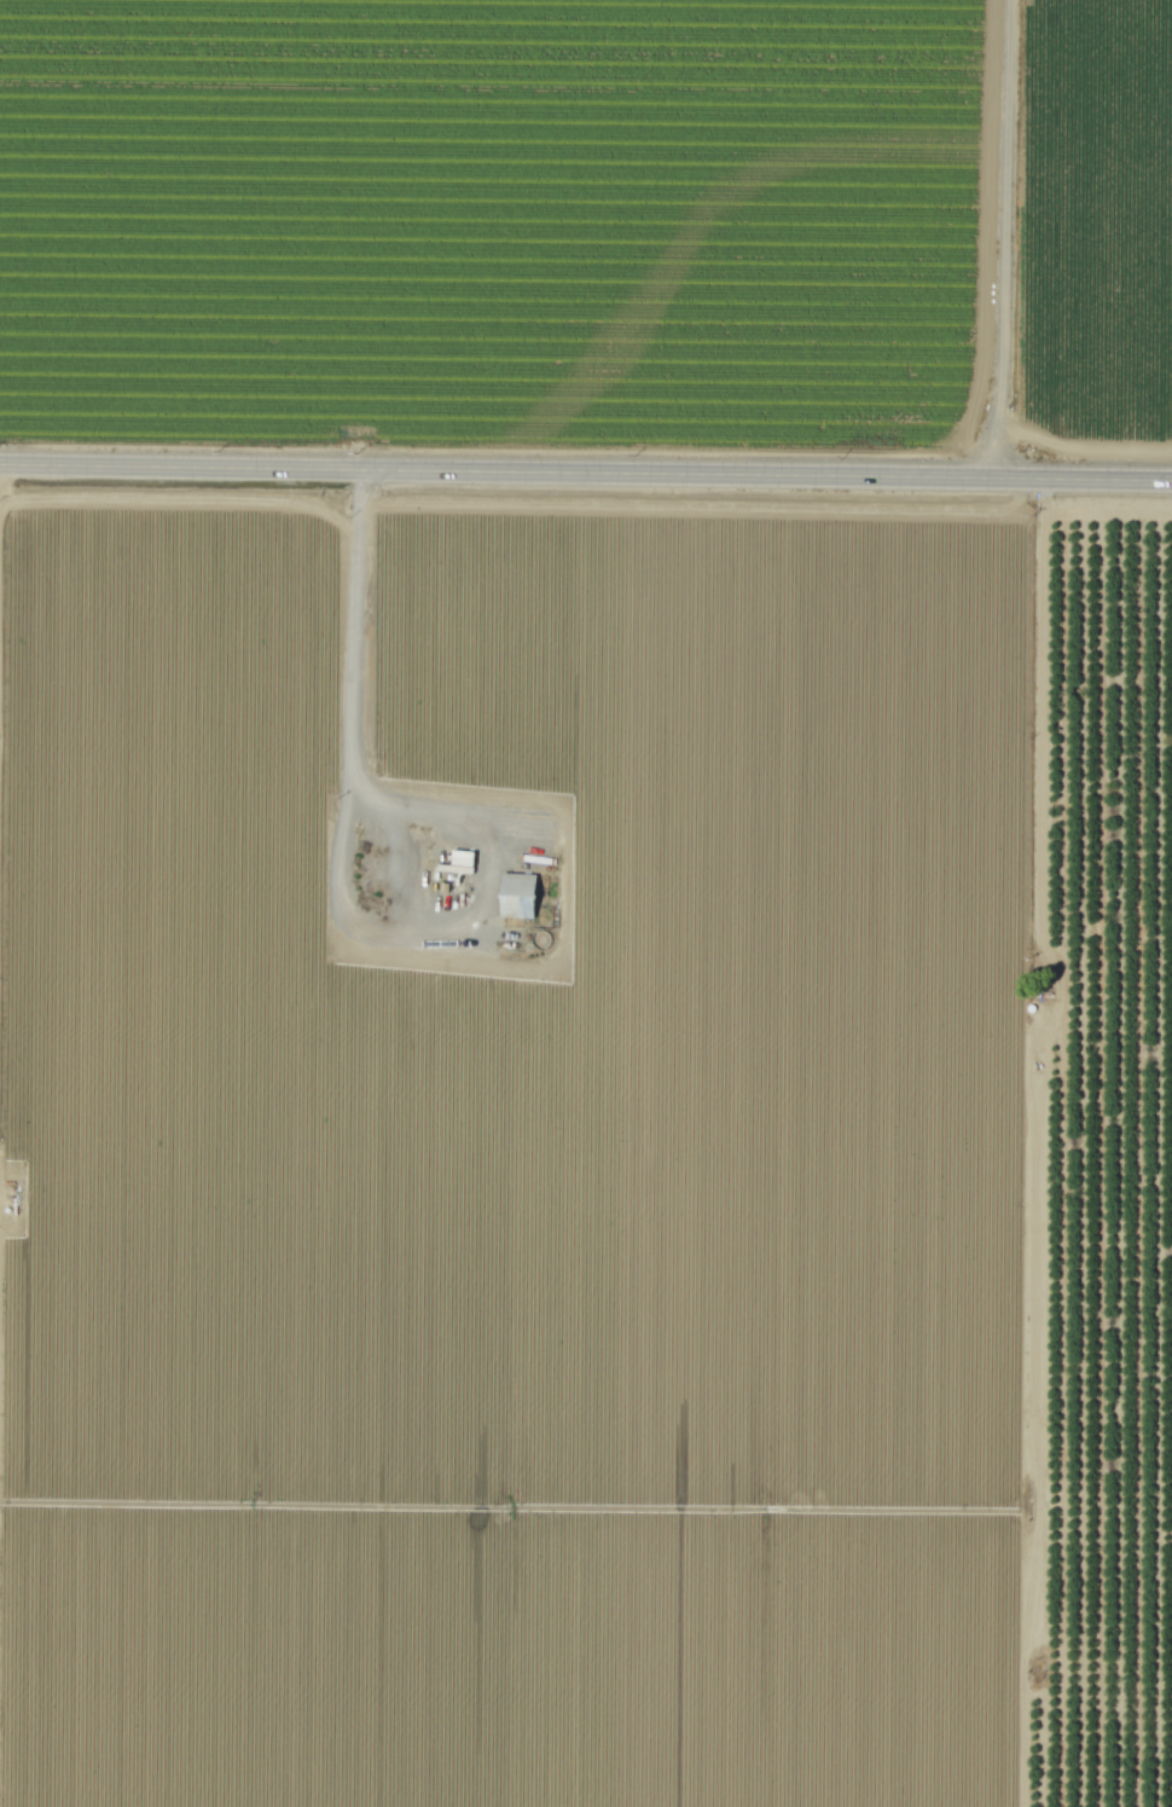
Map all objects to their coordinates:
road: (586, 471)
road: (342, 870)

